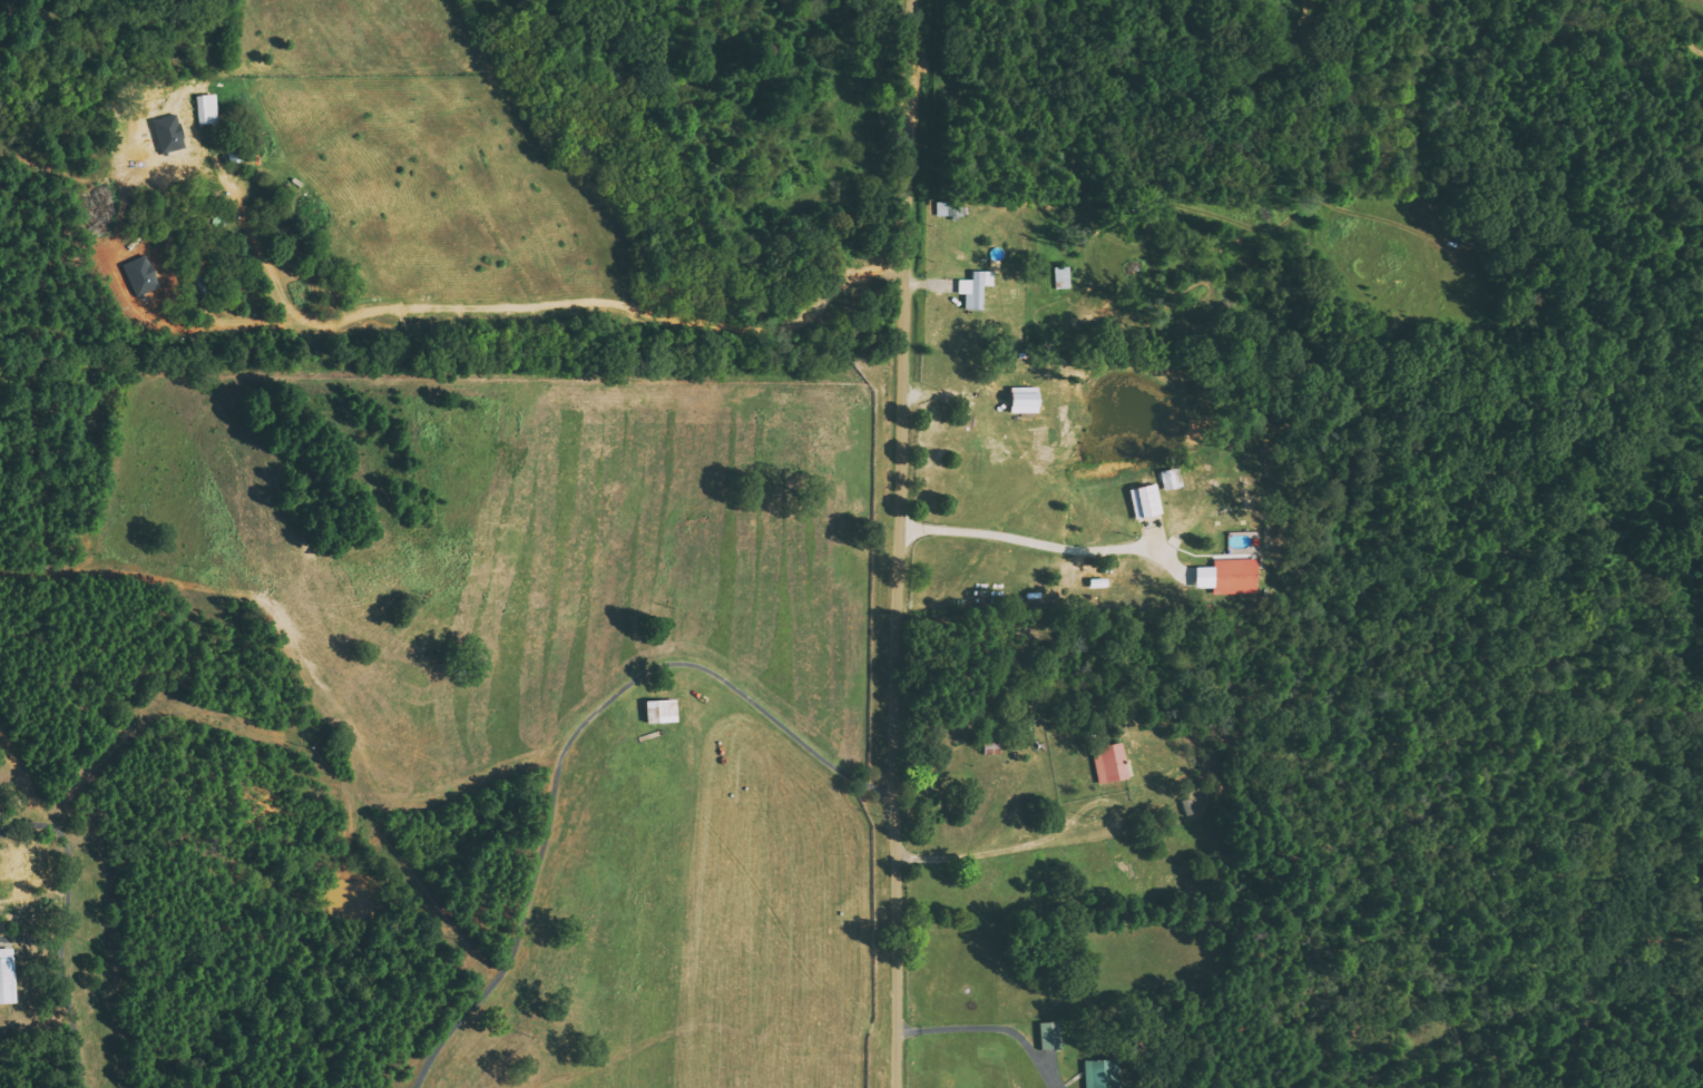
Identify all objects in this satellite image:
building: (208, 109)
building: (977, 290)
building: (1173, 479)
road: (900, 543)
building: (1232, 576)
building: (664, 710)
building: (1112, 763)
road: (374, 778)
building: (1, 811)
building: (8, 977)
building: (1051, 1035)
building: (1104, 1074)

